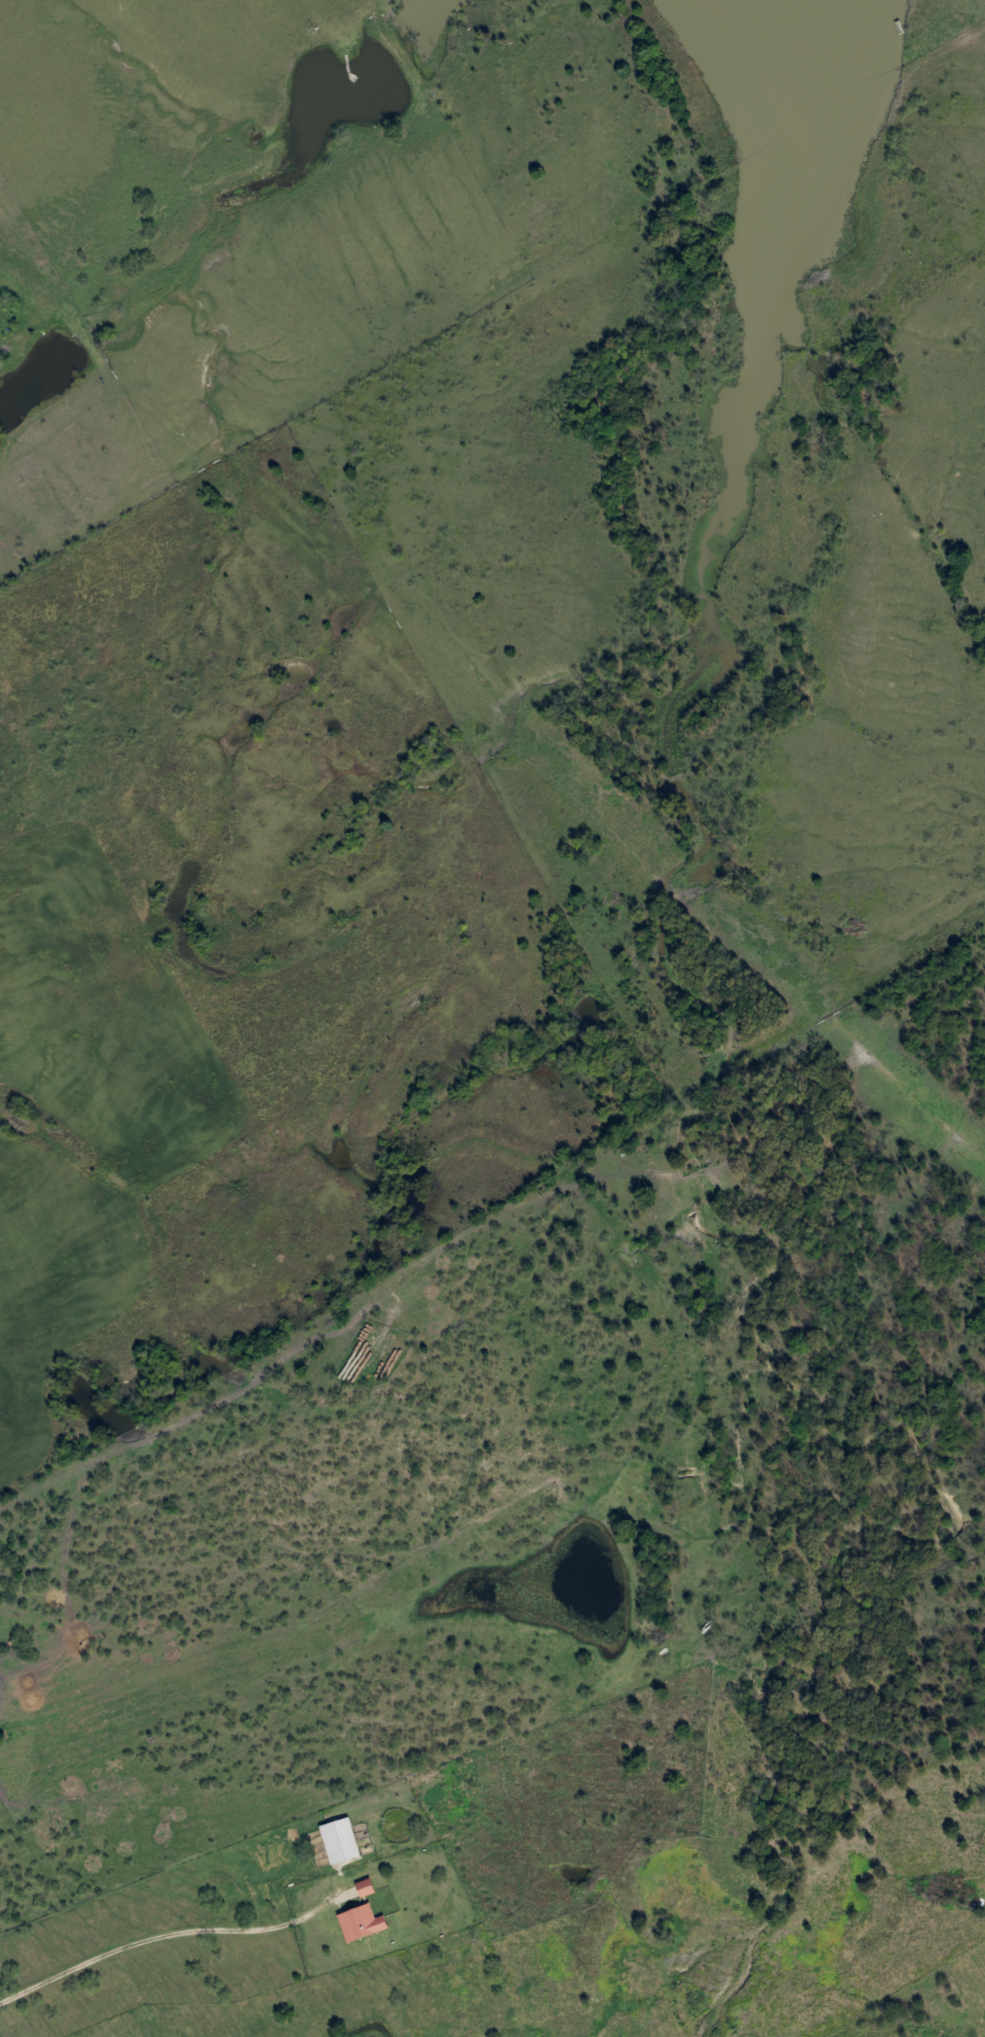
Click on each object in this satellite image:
building: (339, 1840)
building: (364, 1887)
building: (359, 1922)
road: (151, 1941)

